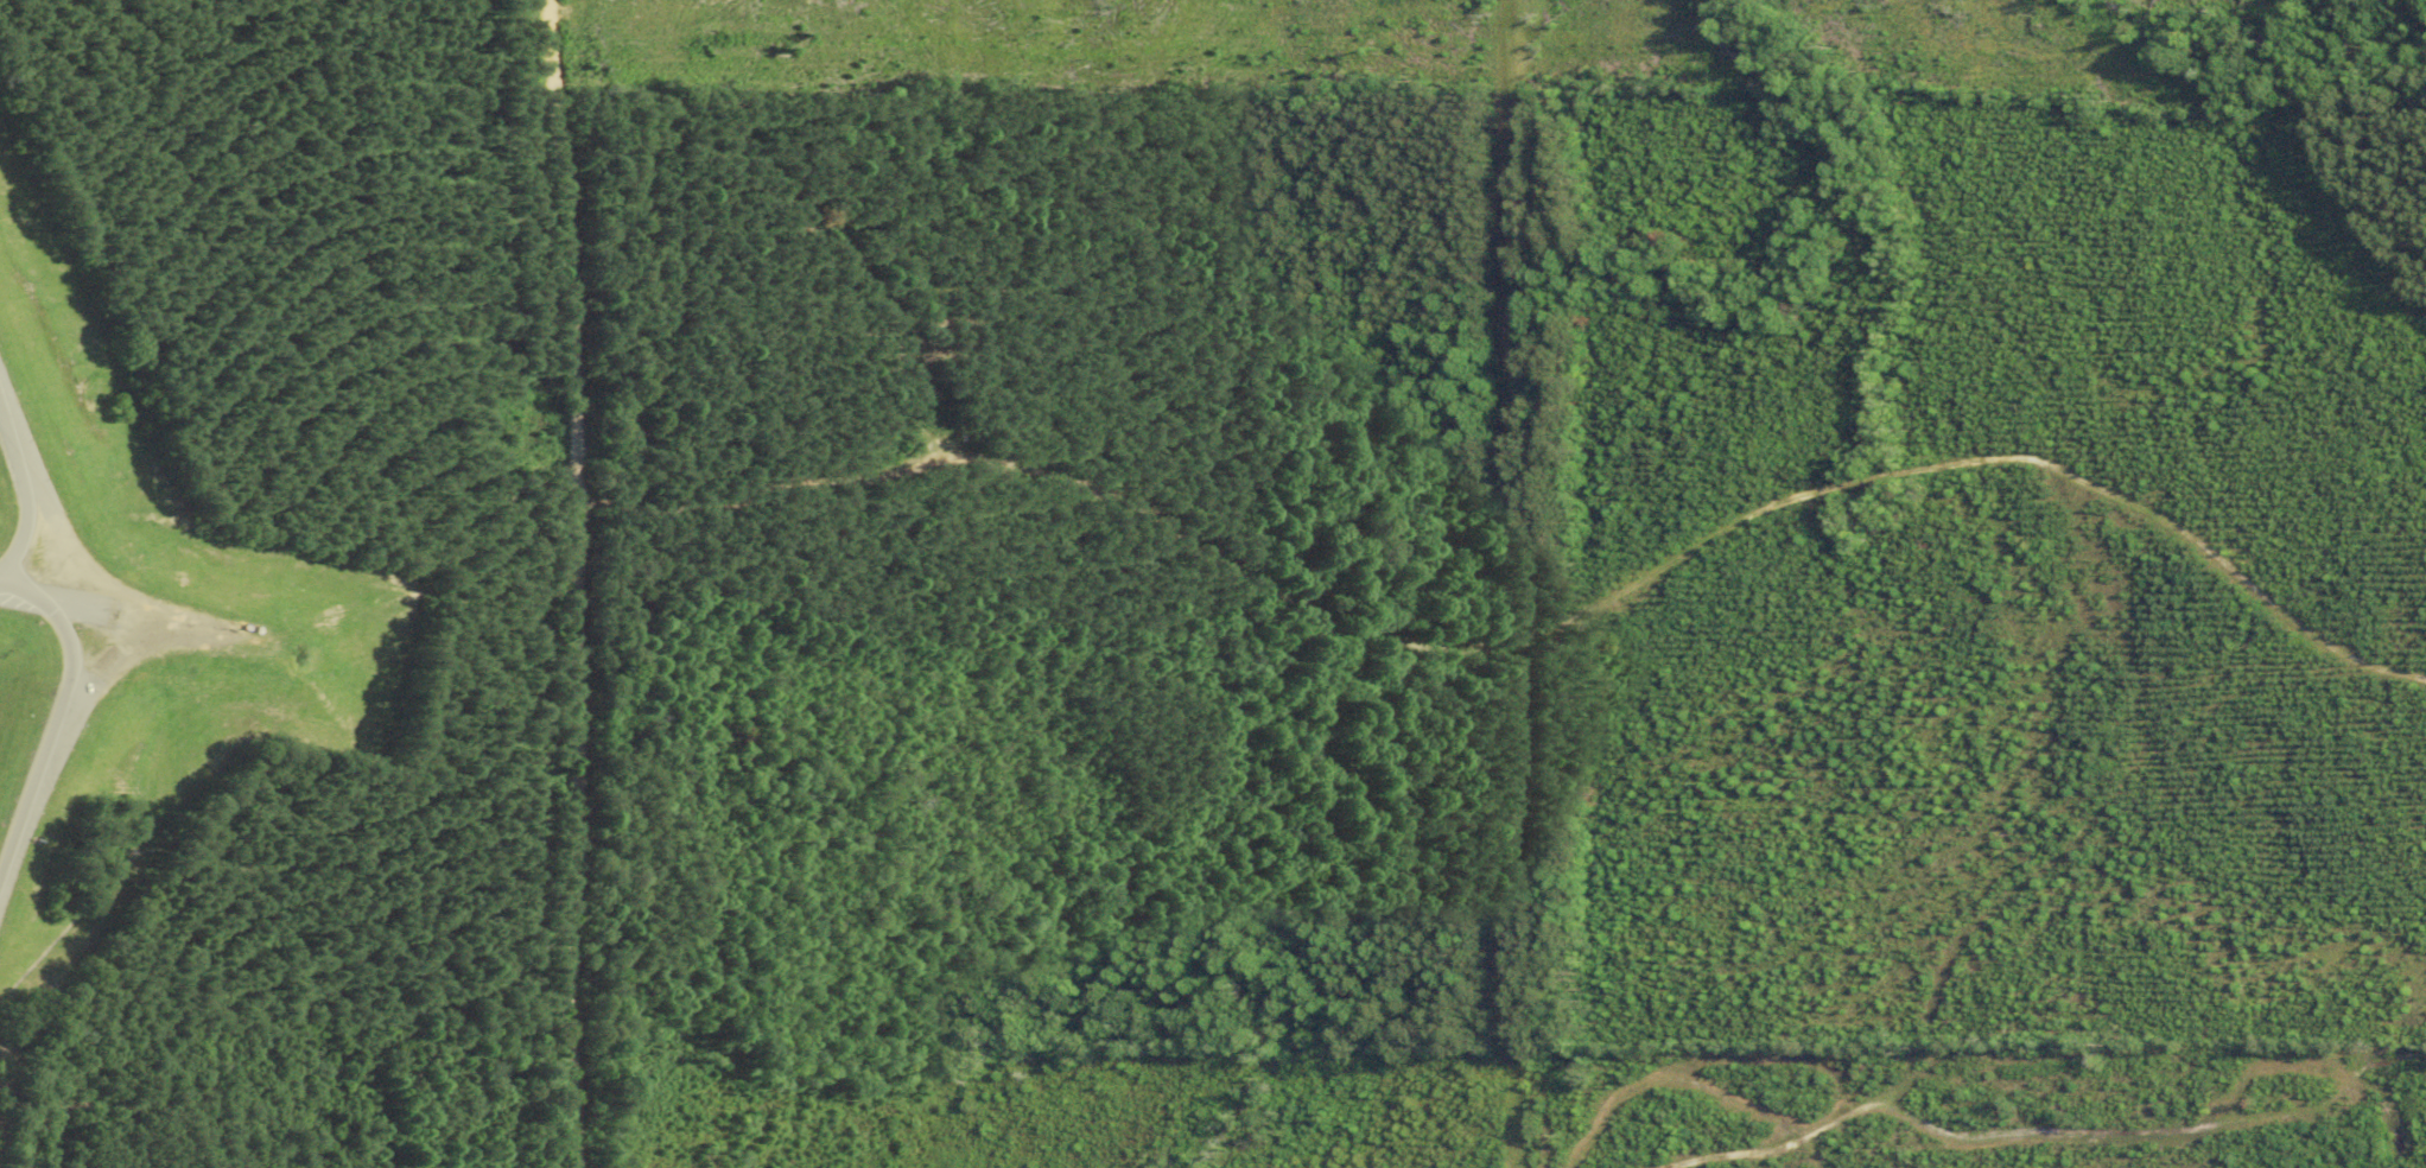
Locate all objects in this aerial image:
road: (27, 490)
road: (578, 583)
road: (17, 592)
road: (77, 605)
road: (50, 737)

